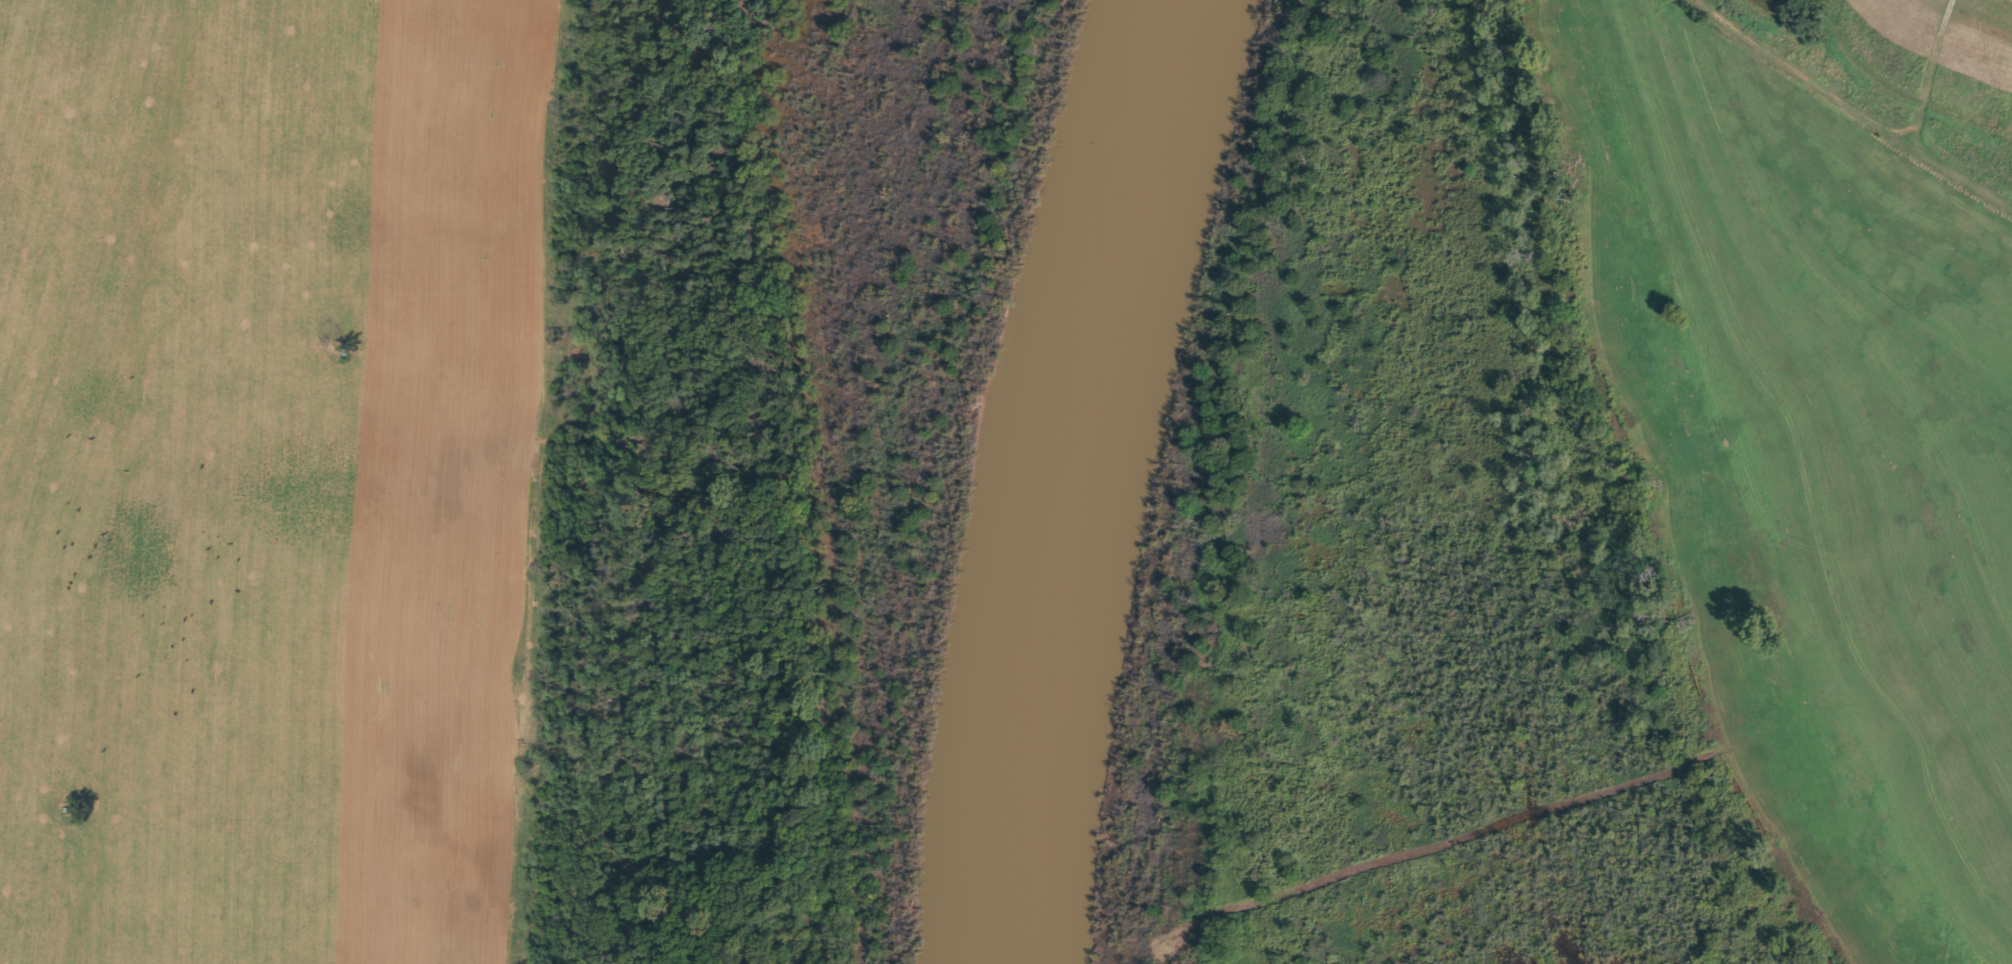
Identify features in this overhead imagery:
river: (1074, 479)

